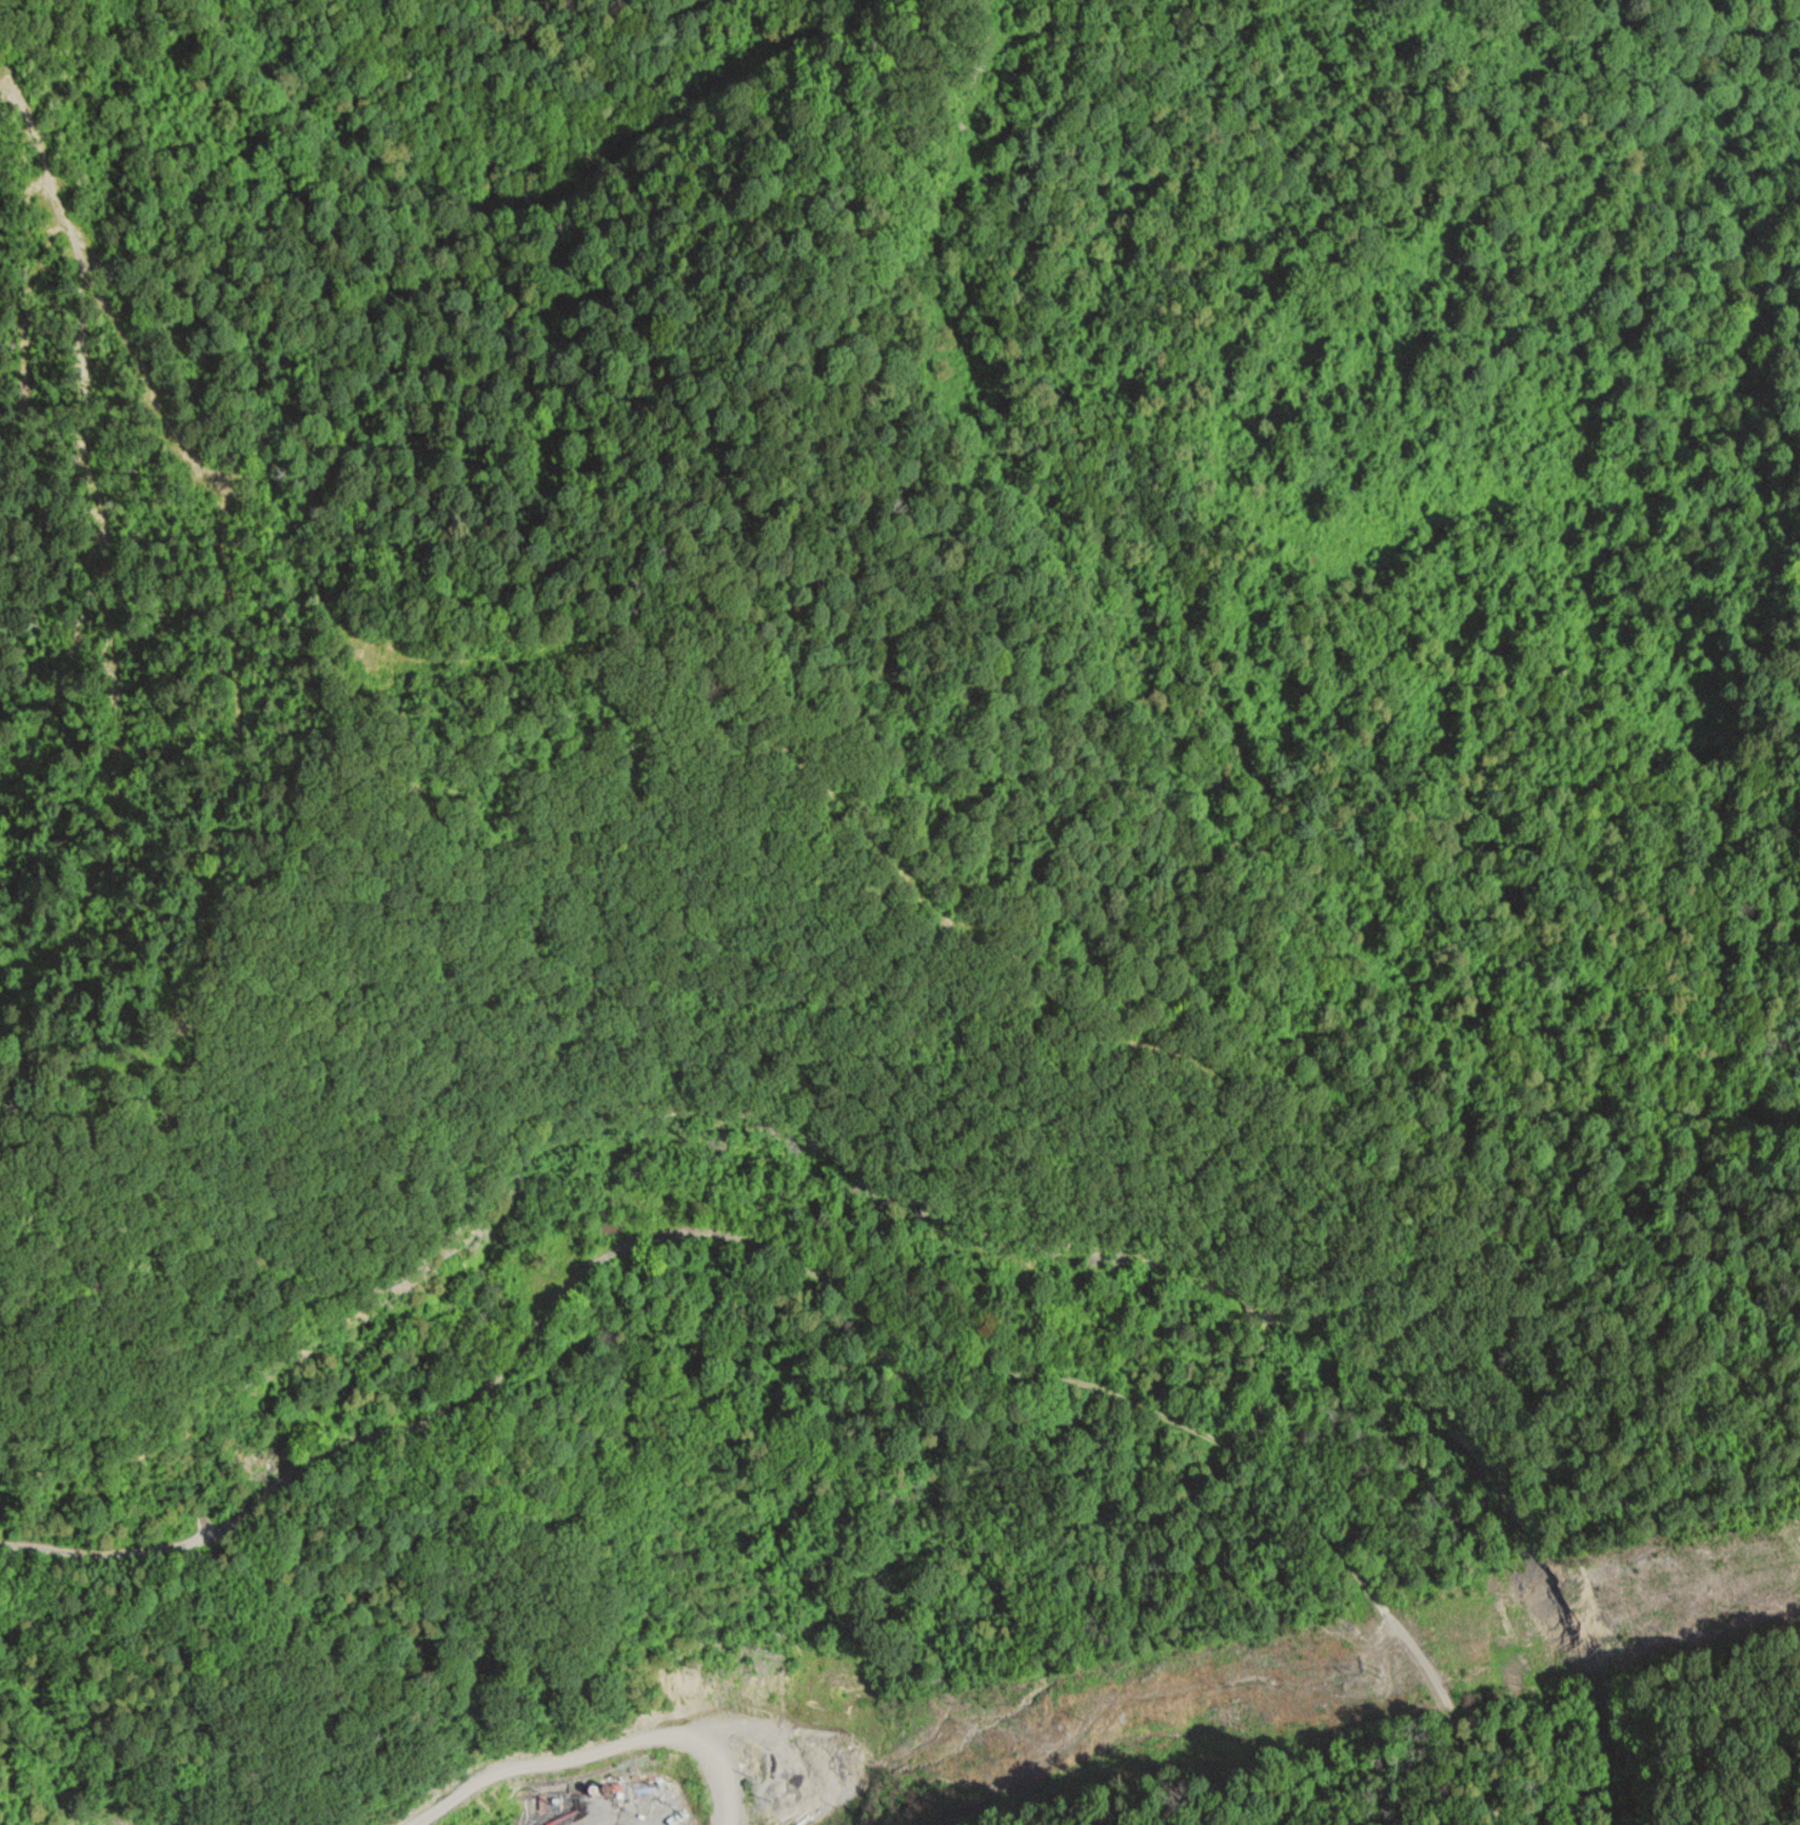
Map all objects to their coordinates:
road: (838, 1253)
road: (585, 1755)
building: (801, 1808)

